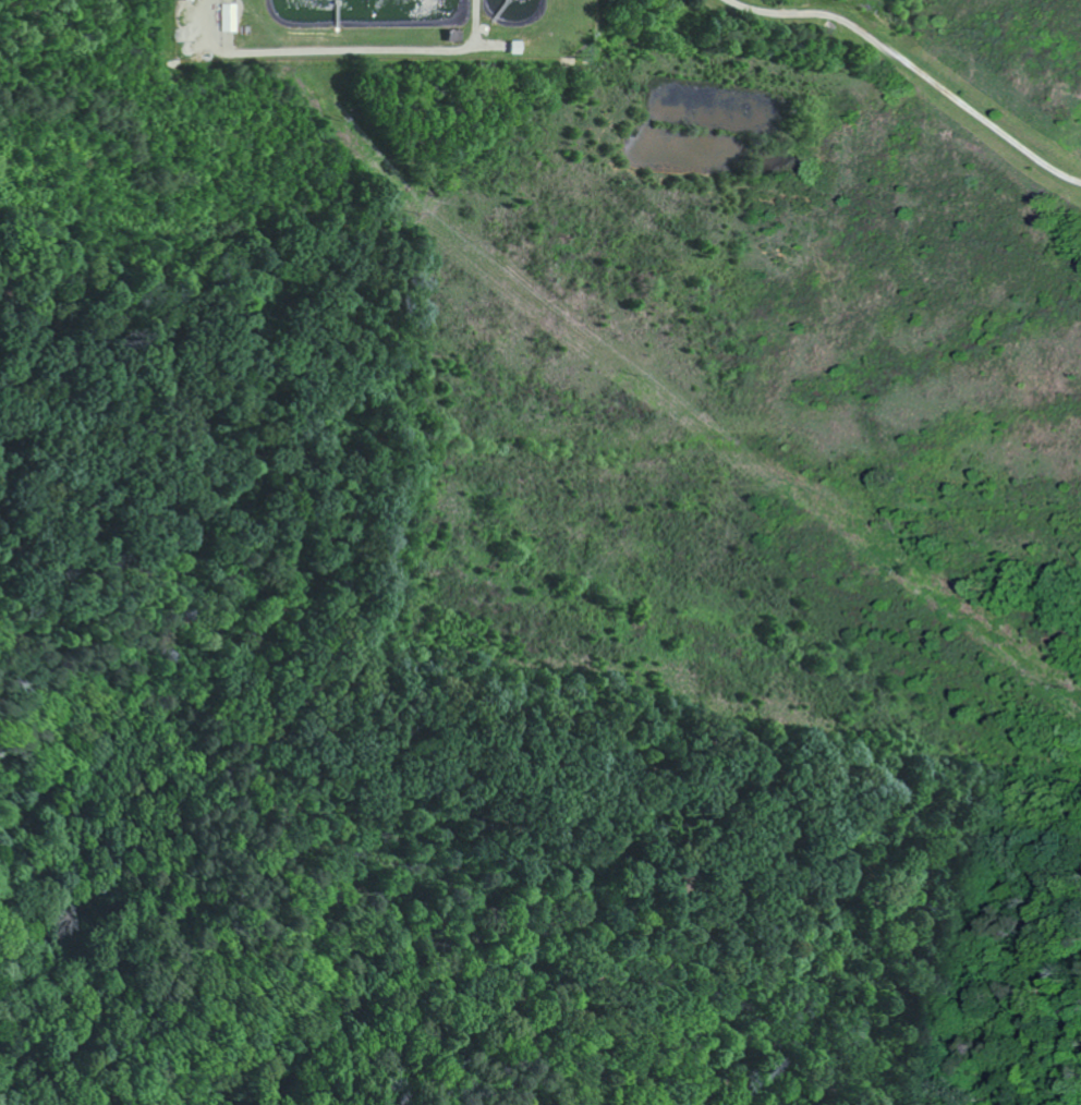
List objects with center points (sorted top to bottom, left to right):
building: (233, 14)

